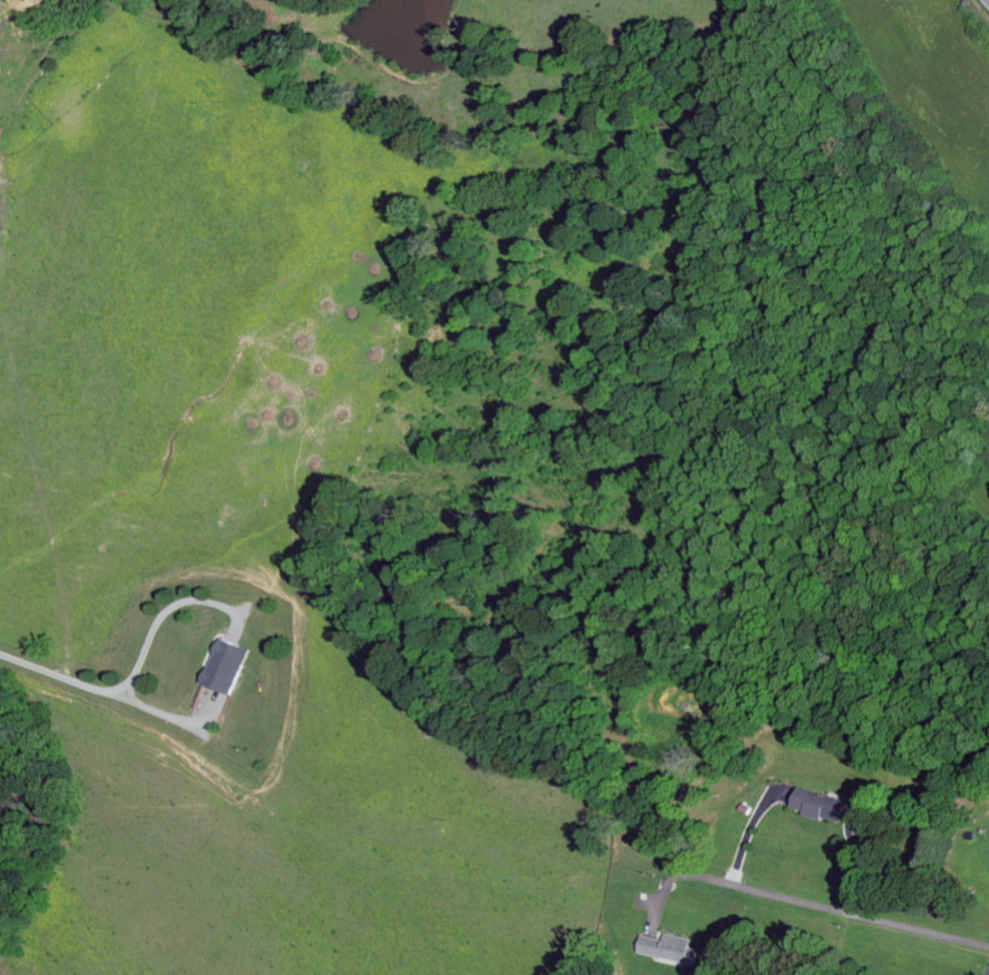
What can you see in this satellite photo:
road: (988, 0)
building: (223, 670)
building: (813, 807)
road: (839, 914)
building: (664, 953)

